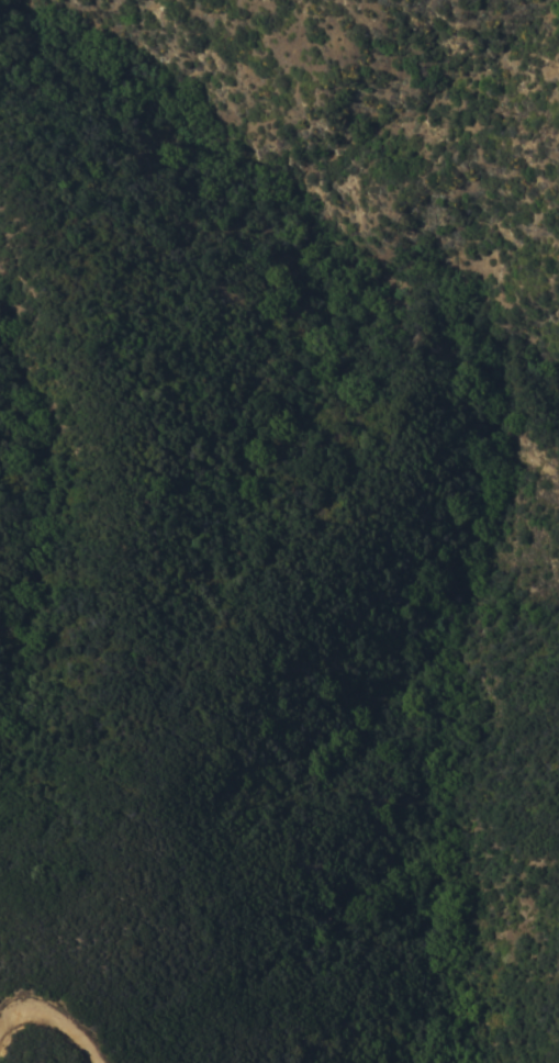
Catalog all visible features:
road: (54, 1019)

